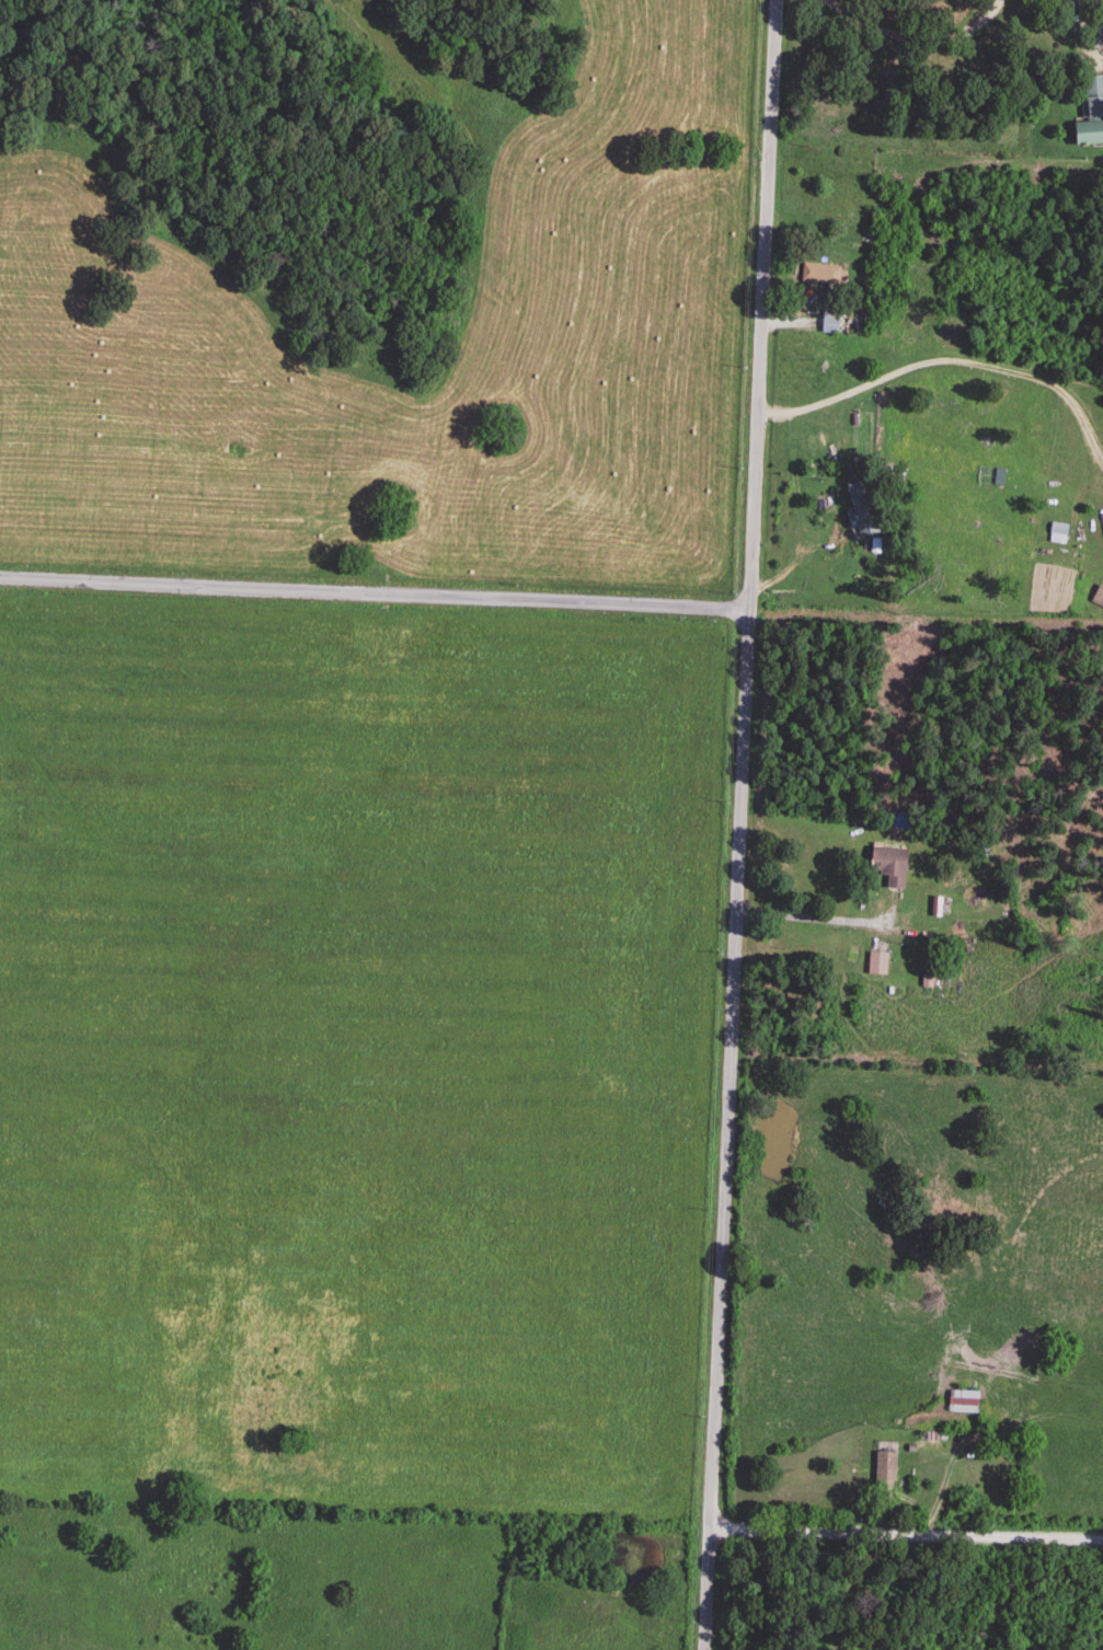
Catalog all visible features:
road: (916, 18)
road: (1090, 22)
building: (1093, 100)
building: (1087, 136)
building: (819, 277)
building: (829, 326)
road: (949, 360)
building: (1057, 531)
road: (372, 596)
building: (1098, 599)
road: (740, 822)
building: (887, 868)
building: (937, 909)
road: (828, 923)
building: (876, 965)
building: (962, 1404)
building: (883, 1472)
road: (908, 1539)

